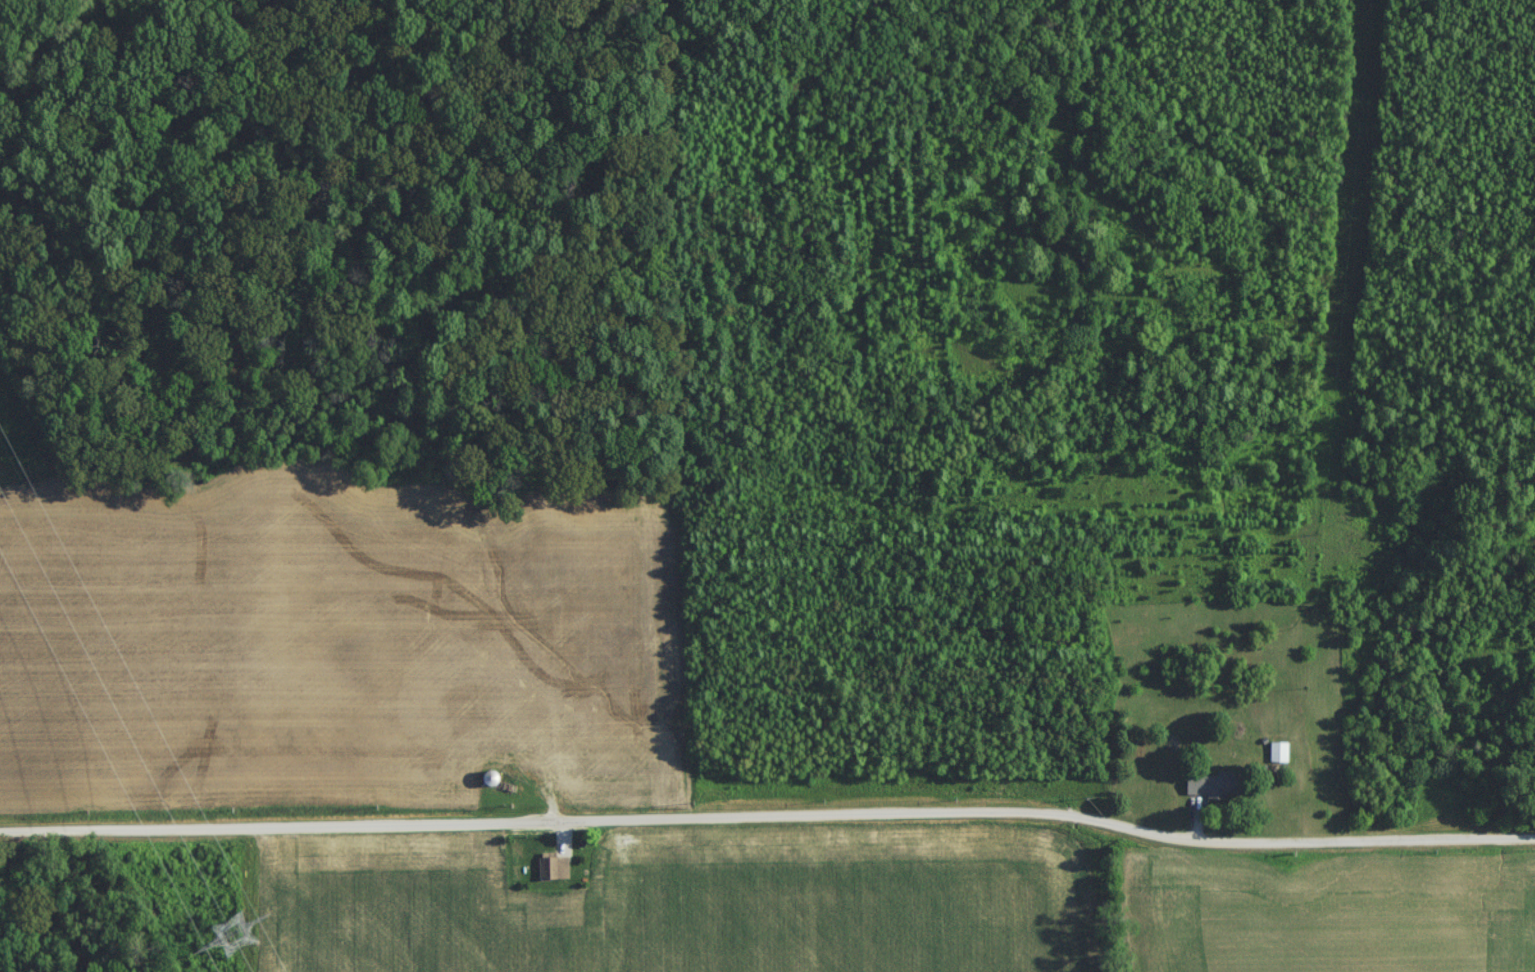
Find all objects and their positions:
building: (1277, 757)
building: (490, 783)
building: (1213, 789)
road: (768, 814)
building: (552, 872)
power tower: (238, 937)

